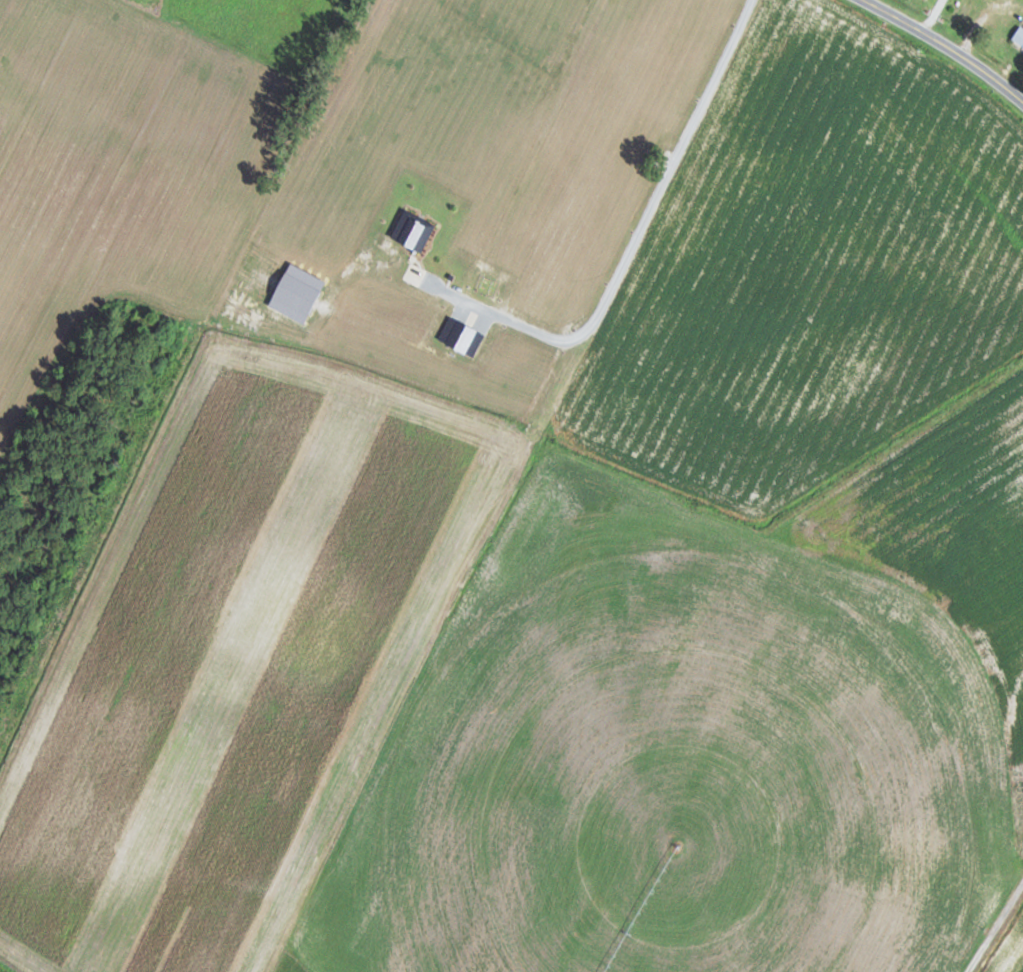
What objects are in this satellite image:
building: (1016, 37)
road: (947, 47)

